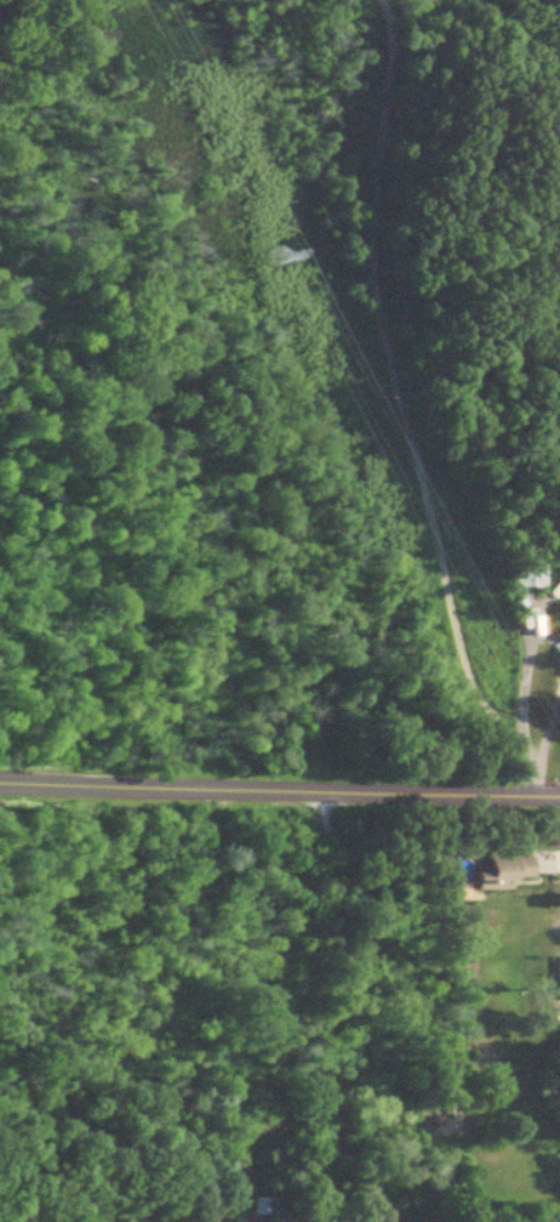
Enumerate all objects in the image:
power tower: (273, 261)
building: (521, 564)
road: (520, 706)
road: (533, 773)
road: (280, 790)
building: (498, 873)
building: (558, 979)
building: (258, 1210)
building: (281, 1215)

